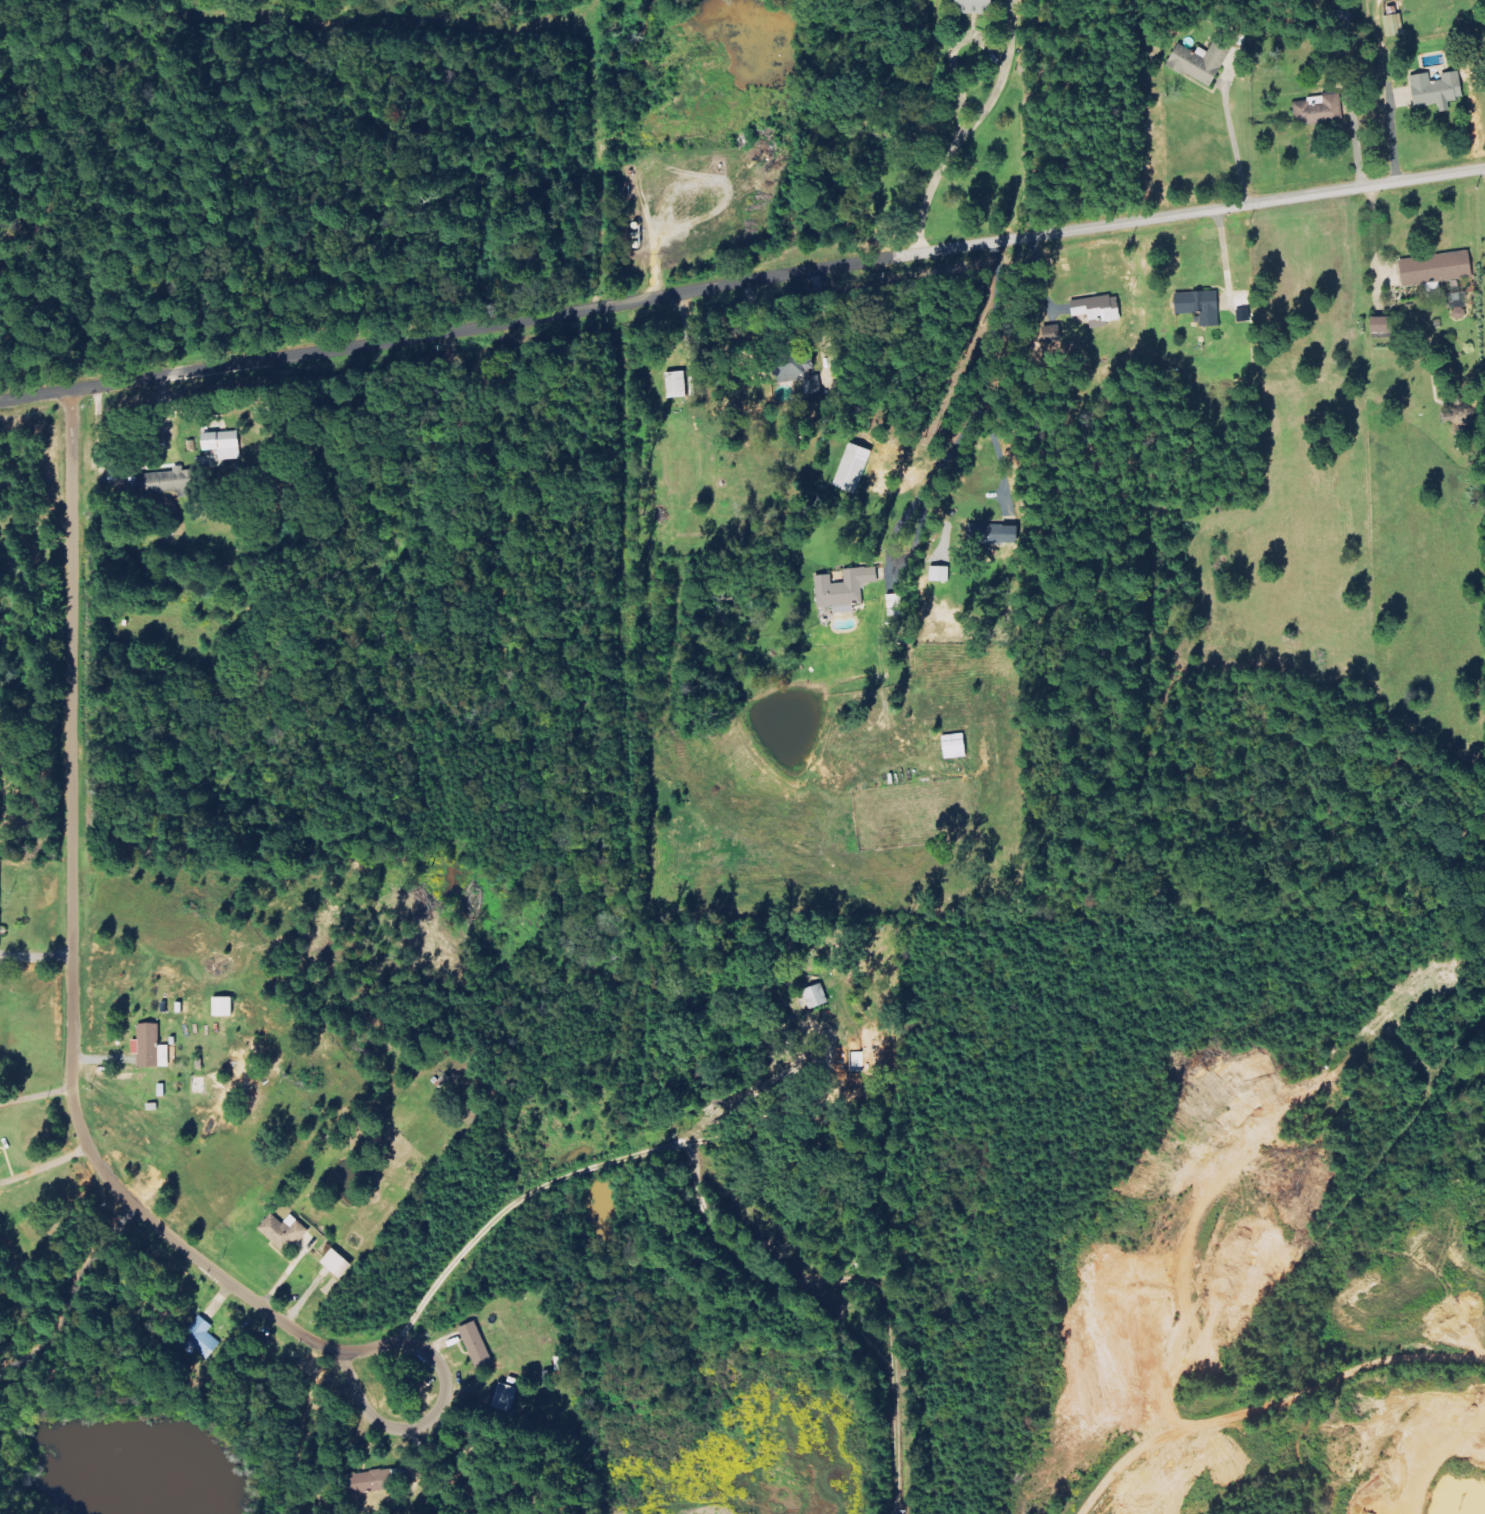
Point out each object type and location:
building: (976, 7)
building: (1202, 62)
building: (1438, 90)
road: (995, 93)
building: (1320, 111)
building: (1441, 273)
road: (742, 284)
building: (1201, 307)
building: (1099, 310)
building: (1384, 326)
building: (802, 373)
building: (677, 385)
road: (975, 409)
building: (224, 444)
building: (854, 468)
building: (170, 482)
building: (995, 532)
building: (941, 574)
building: (846, 589)
building: (956, 746)
building: (0, 926)
road: (73, 934)
building: (817, 996)
building: (224, 1006)
building: (151, 1047)
road: (37, 1094)
road: (44, 1164)
building: (285, 1231)
building: (338, 1263)
road: (69, 1292)
building: (201, 1337)
building: (477, 1345)
road: (347, 1371)
building: (506, 1398)
road: (1270, 1406)
building: (371, 1482)

